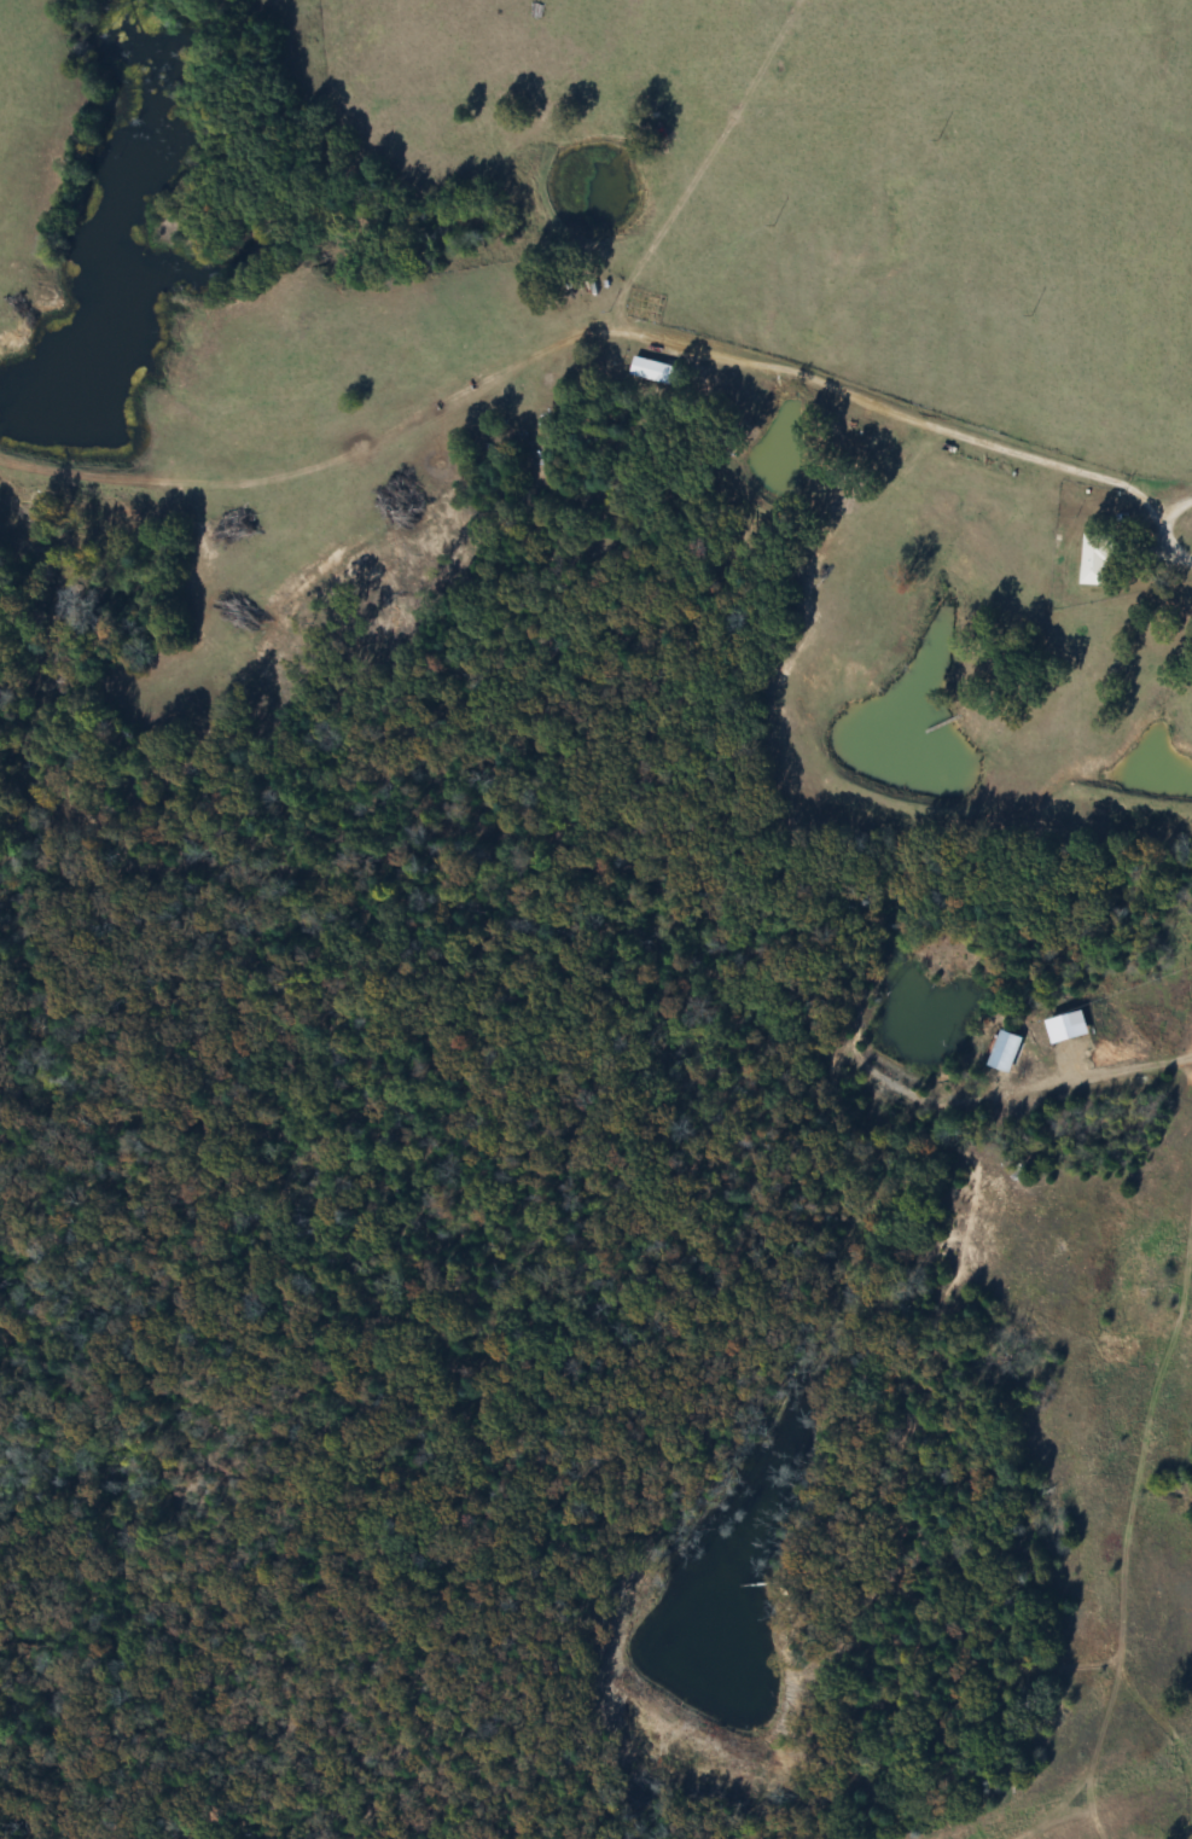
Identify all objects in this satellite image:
road: (609, 339)
building: (655, 372)
road: (1178, 522)
building: (1097, 559)

